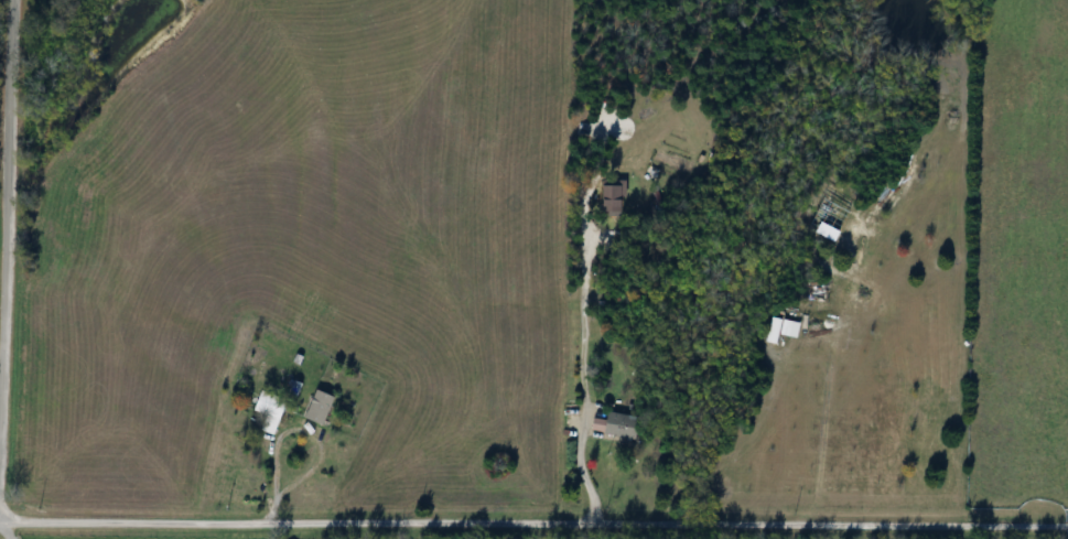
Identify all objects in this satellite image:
road: (4, 174)
building: (320, 407)
building: (600, 410)
building: (270, 411)
building: (623, 425)
road: (293, 428)
road: (579, 467)
road: (532, 524)
road: (8, 530)

